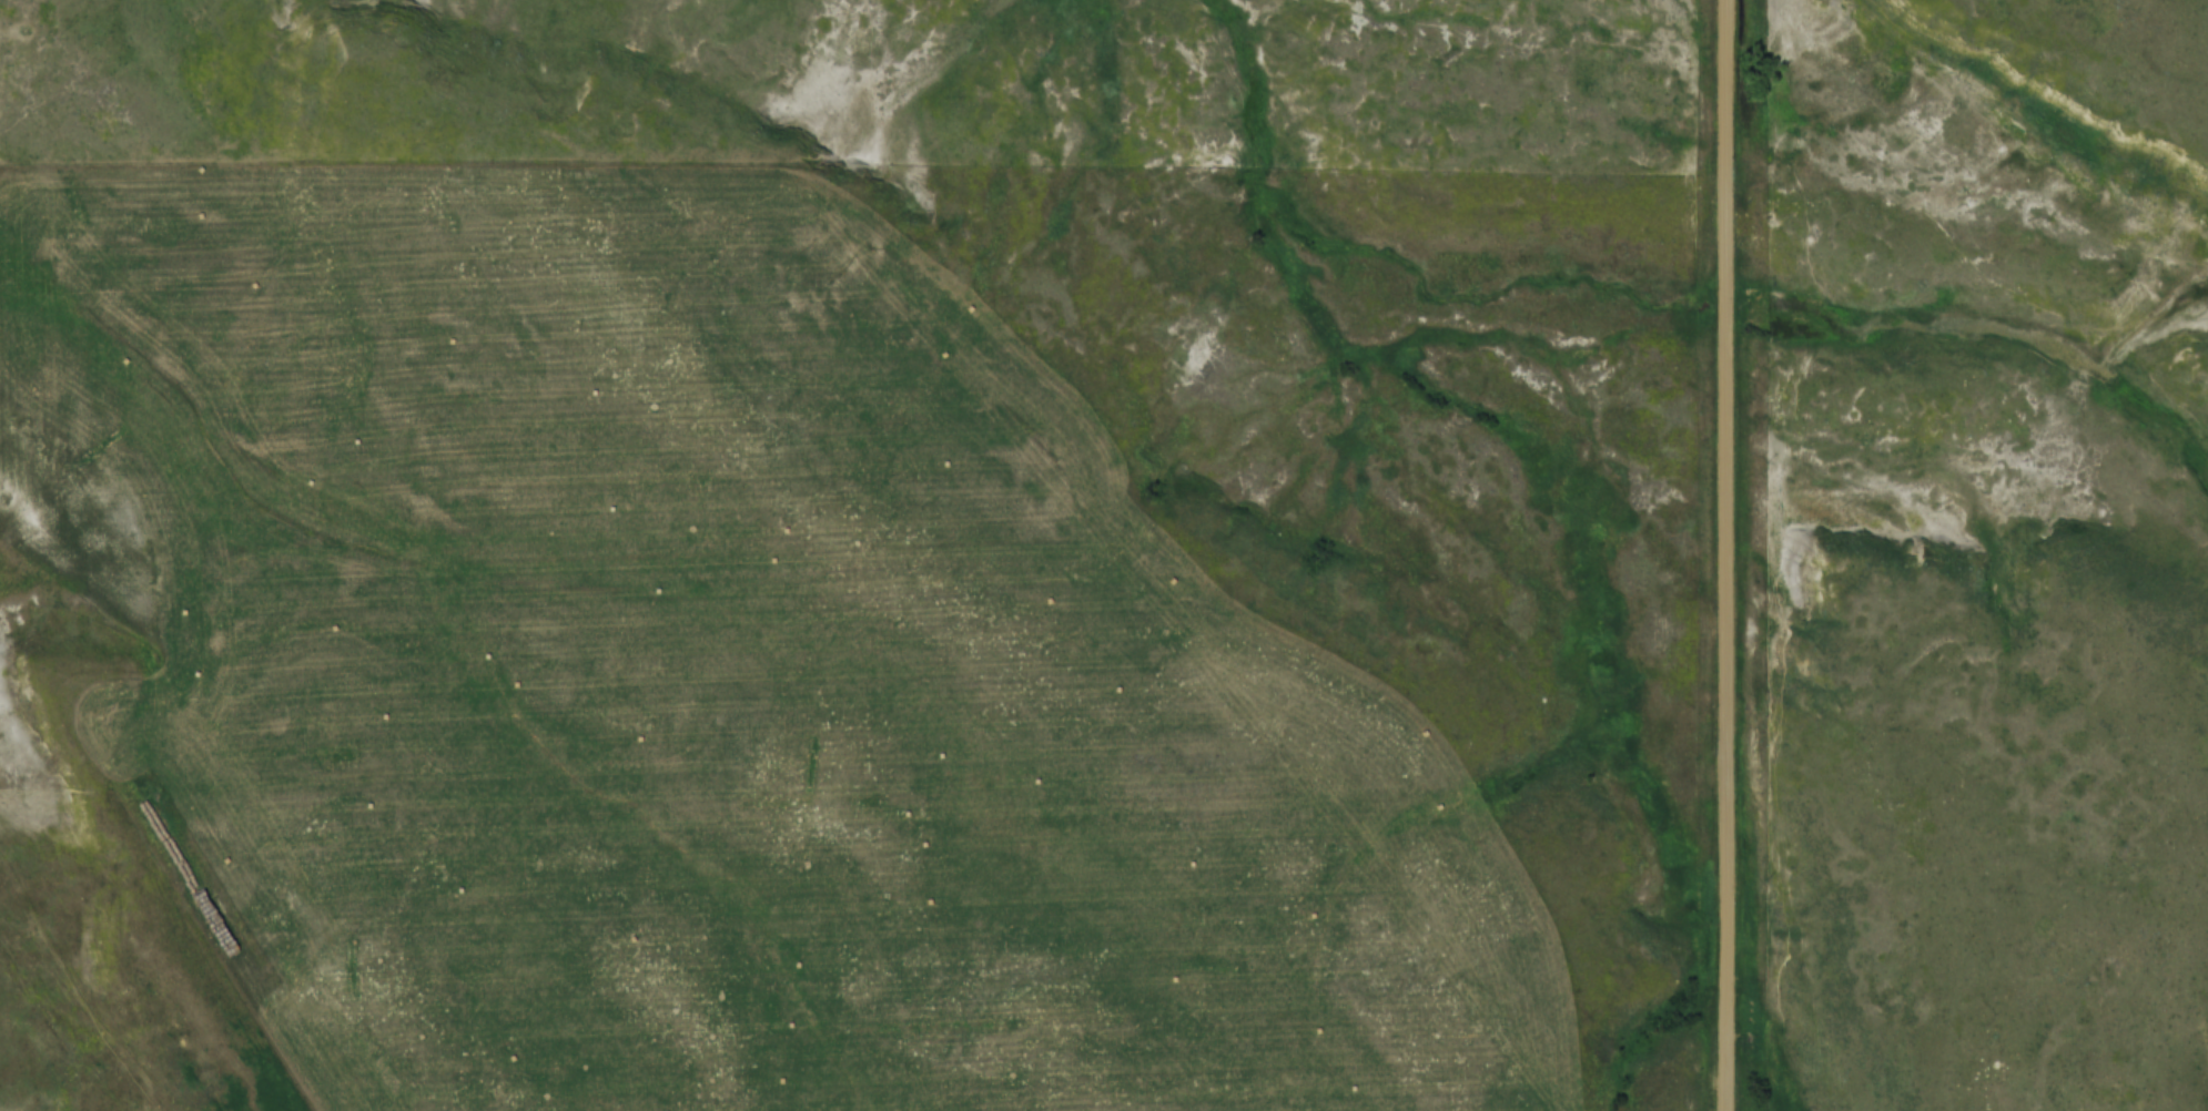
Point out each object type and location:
road: (1730, 554)

